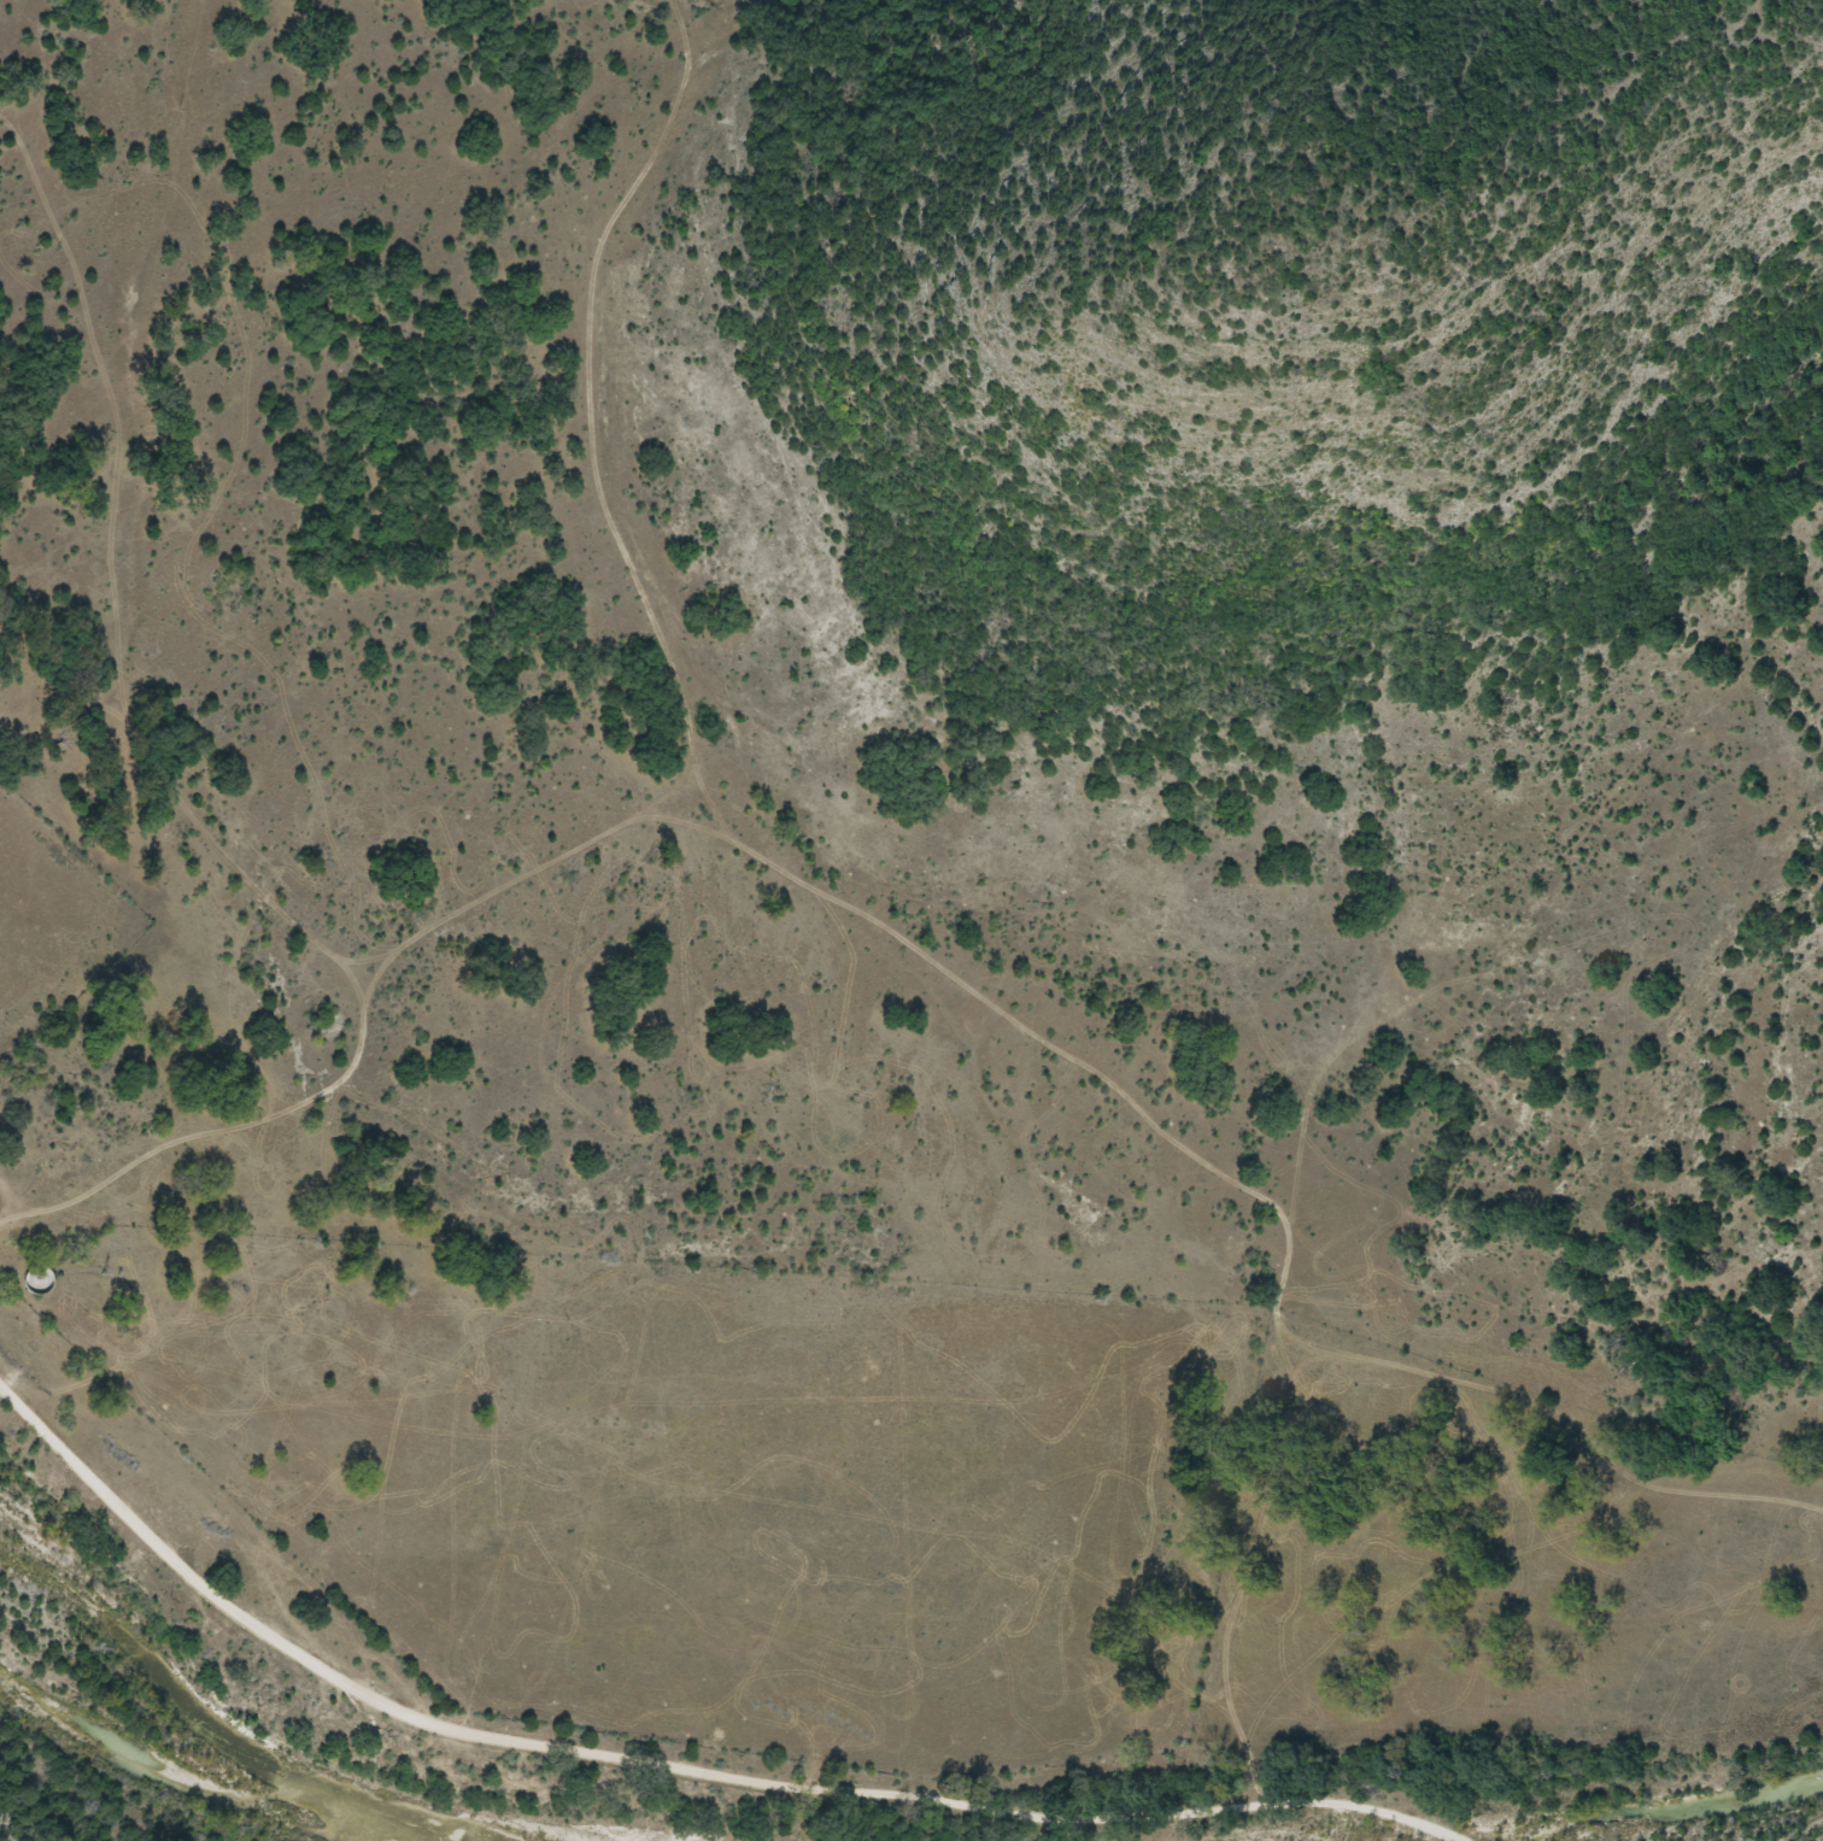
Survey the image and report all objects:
road: (1301, 1247)
road: (696, 1726)
river: (184, 1776)
river: (1689, 1804)
river: (1546, 1831)

